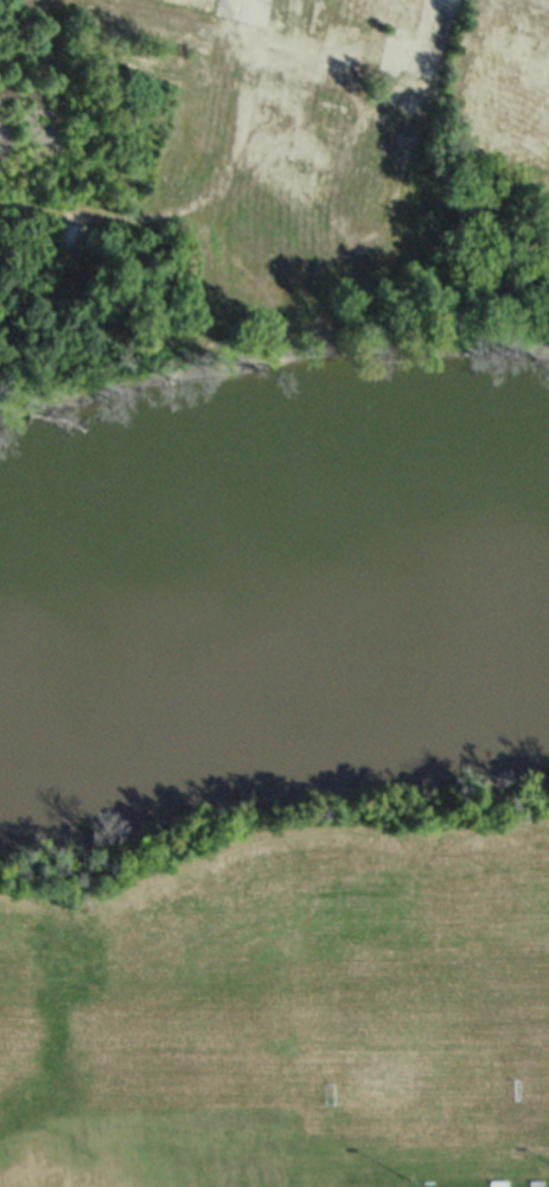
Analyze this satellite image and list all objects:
road: (547, 0)
building: (200, 2)
building: (374, 9)
building: (302, 14)
road: (428, 19)
road: (344, 47)
building: (515, 91)
building: (404, 95)
building: (377, 174)
road: (206, 190)
river: (274, 579)
park: (283, 997)

